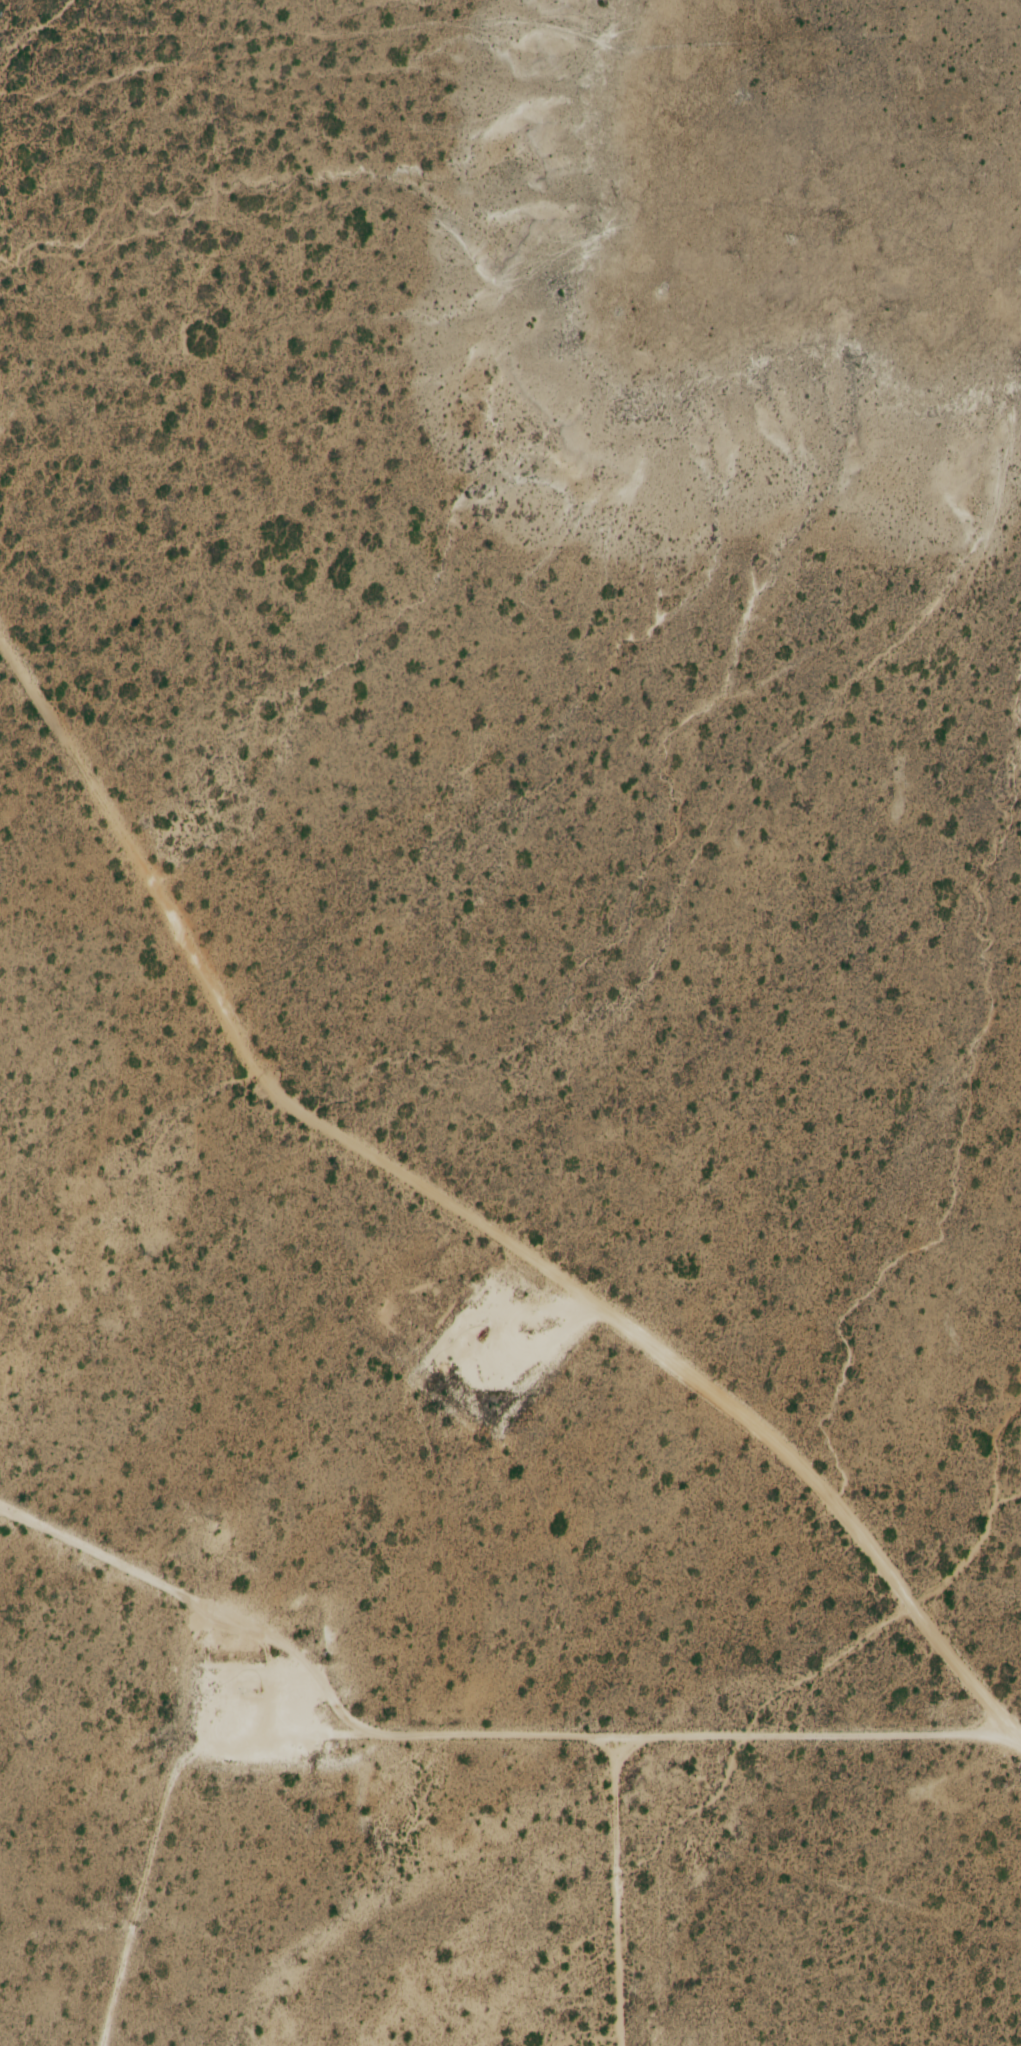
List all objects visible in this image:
road: (466, 1215)
road: (415, 1708)

